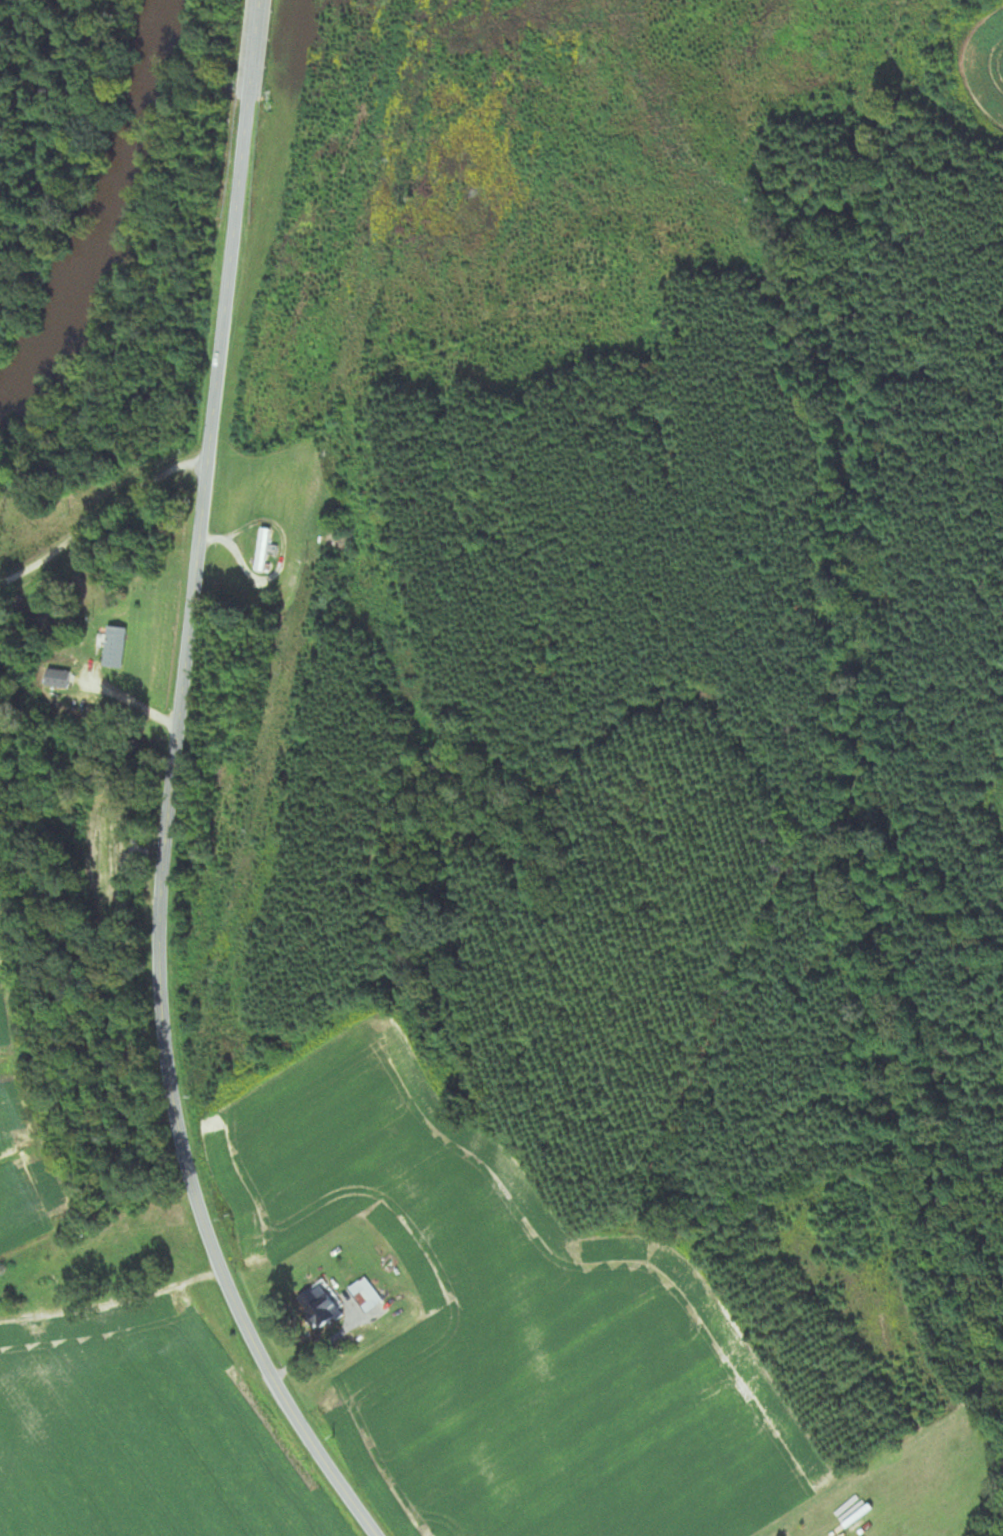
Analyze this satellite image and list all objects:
river: (102, 212)
road: (97, 514)
building: (258, 548)
building: (120, 646)
road: (170, 791)
building: (357, 1299)
road: (320, 1349)

